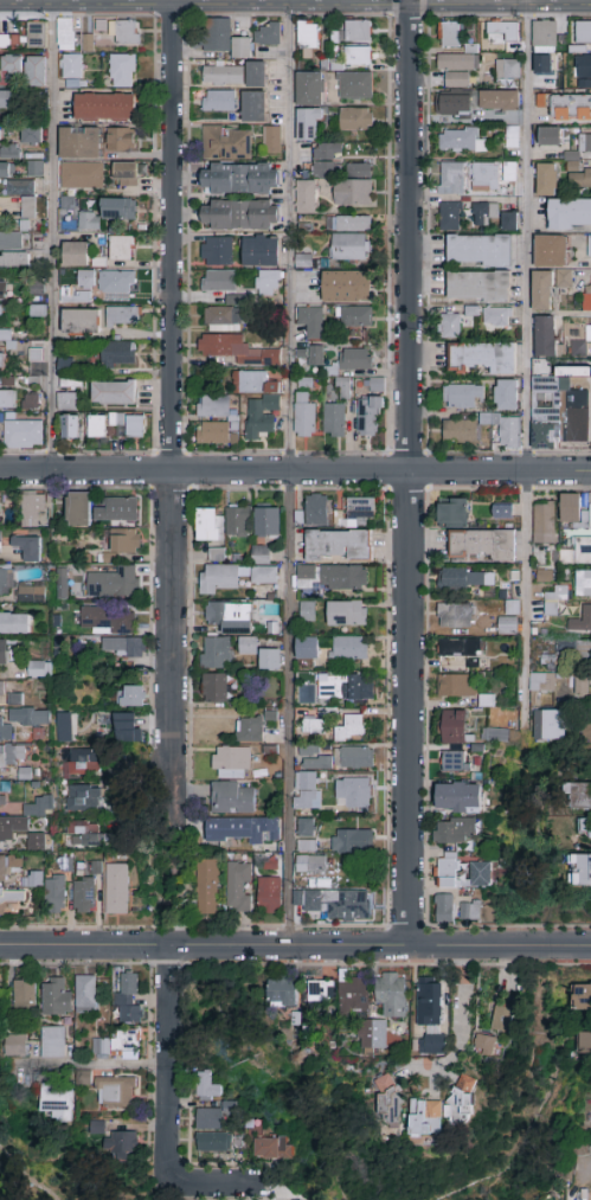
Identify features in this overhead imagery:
road: (295, 4)
building: (358, 31)
building: (123, 33)
building: (583, 33)
building: (65, 34)
building: (266, 34)
building: (544, 34)
building: (217, 36)
building: (36, 37)
building: (449, 37)
building: (308, 39)
building: (4, 43)
building: (86, 43)
building: (242, 47)
building: (355, 57)
building: (460, 60)
building: (544, 64)
building: (11, 65)
building: (71, 66)
building: (584, 68)
building: (507, 69)
building: (36, 71)
building: (122, 71)
building: (223, 75)
building: (257, 75)
building: (457, 79)
building: (355, 86)
building: (309, 89)
building: (499, 101)
building: (541, 101)
building: (219, 102)
building: (6, 103)
building: (454, 105)
building: (104, 107)
building: (255, 107)
building: (571, 108)
building: (355, 120)
building: (309, 126)
building: (32, 136)
building: (550, 136)
building: (512, 137)
building: (120, 140)
building: (271, 141)
building: (460, 141)
building: (79, 143)
building: (584, 143)
building: (227, 145)
building: (8, 152)
building: (325, 160)
building: (34, 168)
building: (7, 169)
building: (358, 171)
building: (508, 172)
building: (126, 174)
building: (81, 175)
building: (486, 177)
building: (450, 178)
building: (240, 179)
building: (579, 179)
building: (546, 180)
building: (20, 188)
building: (353, 193)
building: (306, 197)
building: (118, 210)
building: (26, 212)
building: (484, 214)
building: (570, 214)
building: (239, 216)
building: (450, 217)
building: (89, 222)
building: (509, 222)
building: (351, 224)
road: (52, 235)
building: (11, 240)
building: (121, 248)
building: (349, 248)
building: (589, 248)
building: (480, 250)
building: (217, 251)
building: (261, 251)
building: (551, 252)
building: (75, 255)
building: (14, 261)
building: (303, 261)
building: (564, 280)
building: (219, 281)
building: (266, 283)
building: (116, 285)
building: (347, 287)
building: (478, 287)
building: (2, 290)
building: (78, 290)
building: (541, 290)
building: (236, 300)
building: (37, 301)
building: (587, 301)
building: (122, 316)
building: (354, 317)
building: (496, 319)
building: (223, 320)
building: (310, 321)
building: (81, 322)
building: (452, 323)
building: (587, 334)
building: (546, 336)
building: (577, 349)
building: (237, 351)
building: (117, 354)
building: (36, 355)
building: (314, 355)
building: (482, 359)
road: (523, 359)
building: (2, 360)
building: (355, 360)
building: (64, 367)
building: (231, 381)
building: (253, 383)
building: (342, 389)
building: (114, 393)
building: (462, 396)
building: (506, 396)
building: (7, 399)
building: (31, 402)
building: (66, 402)
building: (213, 406)
road: (171, 411)
building: (557, 413)
building: (304, 415)
building: (261, 416)
building: (370, 416)
building: (116, 419)
building: (334, 421)
building: (97, 426)
building: (134, 426)
building: (69, 428)
building: (505, 429)
building: (458, 431)
building: (214, 434)
building: (24, 435)
road: (295, 471)
road: (288, 474)
road: (407, 474)
building: (33, 508)
building: (78, 509)
building: (117, 511)
building: (316, 511)
building: (360, 512)
building: (502, 512)
building: (576, 512)
building: (452, 513)
building: (237, 522)
building: (268, 522)
building: (544, 522)
building: (211, 532)
building: (126, 541)
building: (484, 545)
building: (339, 546)
building: (27, 548)
building: (577, 552)
building: (261, 556)
building: (264, 576)
building: (546, 576)
building: (332, 578)
building: (467, 578)
building: (219, 580)
building: (5, 583)
building: (114, 583)
building: (62, 584)
building: (583, 584)
building: (31, 592)
building: (554, 599)
building: (307, 611)
building: (346, 614)
building: (455, 616)
building: (230, 617)
building: (107, 621)
building: (580, 621)
building: (14, 623)
building: (507, 625)
building: (123, 647)
building: (248, 647)
building: (347, 648)
building: (307, 649)
building: (576, 650)
building: (5, 652)
building: (216, 653)
building: (458, 655)
building: (270, 660)
building: (39, 670)
building: (541, 682)
building: (579, 685)
building: (457, 686)
building: (346, 687)
building: (214, 688)
building: (11, 692)
building: (130, 695)
building: (269, 714)
building: (21, 720)
building: (121, 726)
building: (548, 726)
building: (64, 727)
building: (311, 727)
building: (454, 727)
building: (250, 730)
building: (351, 730)
building: (496, 736)
building: (12, 755)
building: (338, 758)
building: (455, 762)
building: (231, 763)
building: (81, 765)
building: (352, 789)
building: (306, 791)
building: (2, 794)
building: (460, 797)
building: (582, 797)
building: (83, 798)
building: (232, 798)
building: (39, 807)
building: (11, 827)
building: (585, 828)
building: (243, 830)
building: (454, 830)
building: (85, 835)
building: (304, 835)
building: (34, 841)
building: (352, 841)
building: (310, 864)
building: (65, 865)
building: (4, 868)
building: (583, 871)
building: (448, 873)
building: (481, 875)
building: (206, 887)
building: (238, 887)
building: (116, 888)
building: (56, 894)
building: (83, 896)
building: (269, 896)
building: (9, 898)
building: (335, 904)
building: (444, 909)
building: (469, 911)
road: (295, 948)
building: (320, 992)
building: (282, 993)
building: (86, 994)
building: (391, 994)
building: (25, 995)
building: (353, 995)
building: (57, 996)
building: (580, 996)
building: (128, 999)
building: (430, 1015)
building: (502, 1019)
road: (458, 1025)
building: (372, 1035)
building: (52, 1042)
building: (584, 1042)
building: (117, 1045)
building: (484, 1045)
building: (15, 1046)
road: (91, 1066)
road: (168, 1066)
building: (207, 1087)
building: (115, 1092)
building: (388, 1100)
road: (550, 1100)
building: (59, 1103)
building: (442, 1112)
building: (211, 1118)
building: (122, 1143)
building: (217, 1143)
building: (272, 1149)
road: (212, 1185)

